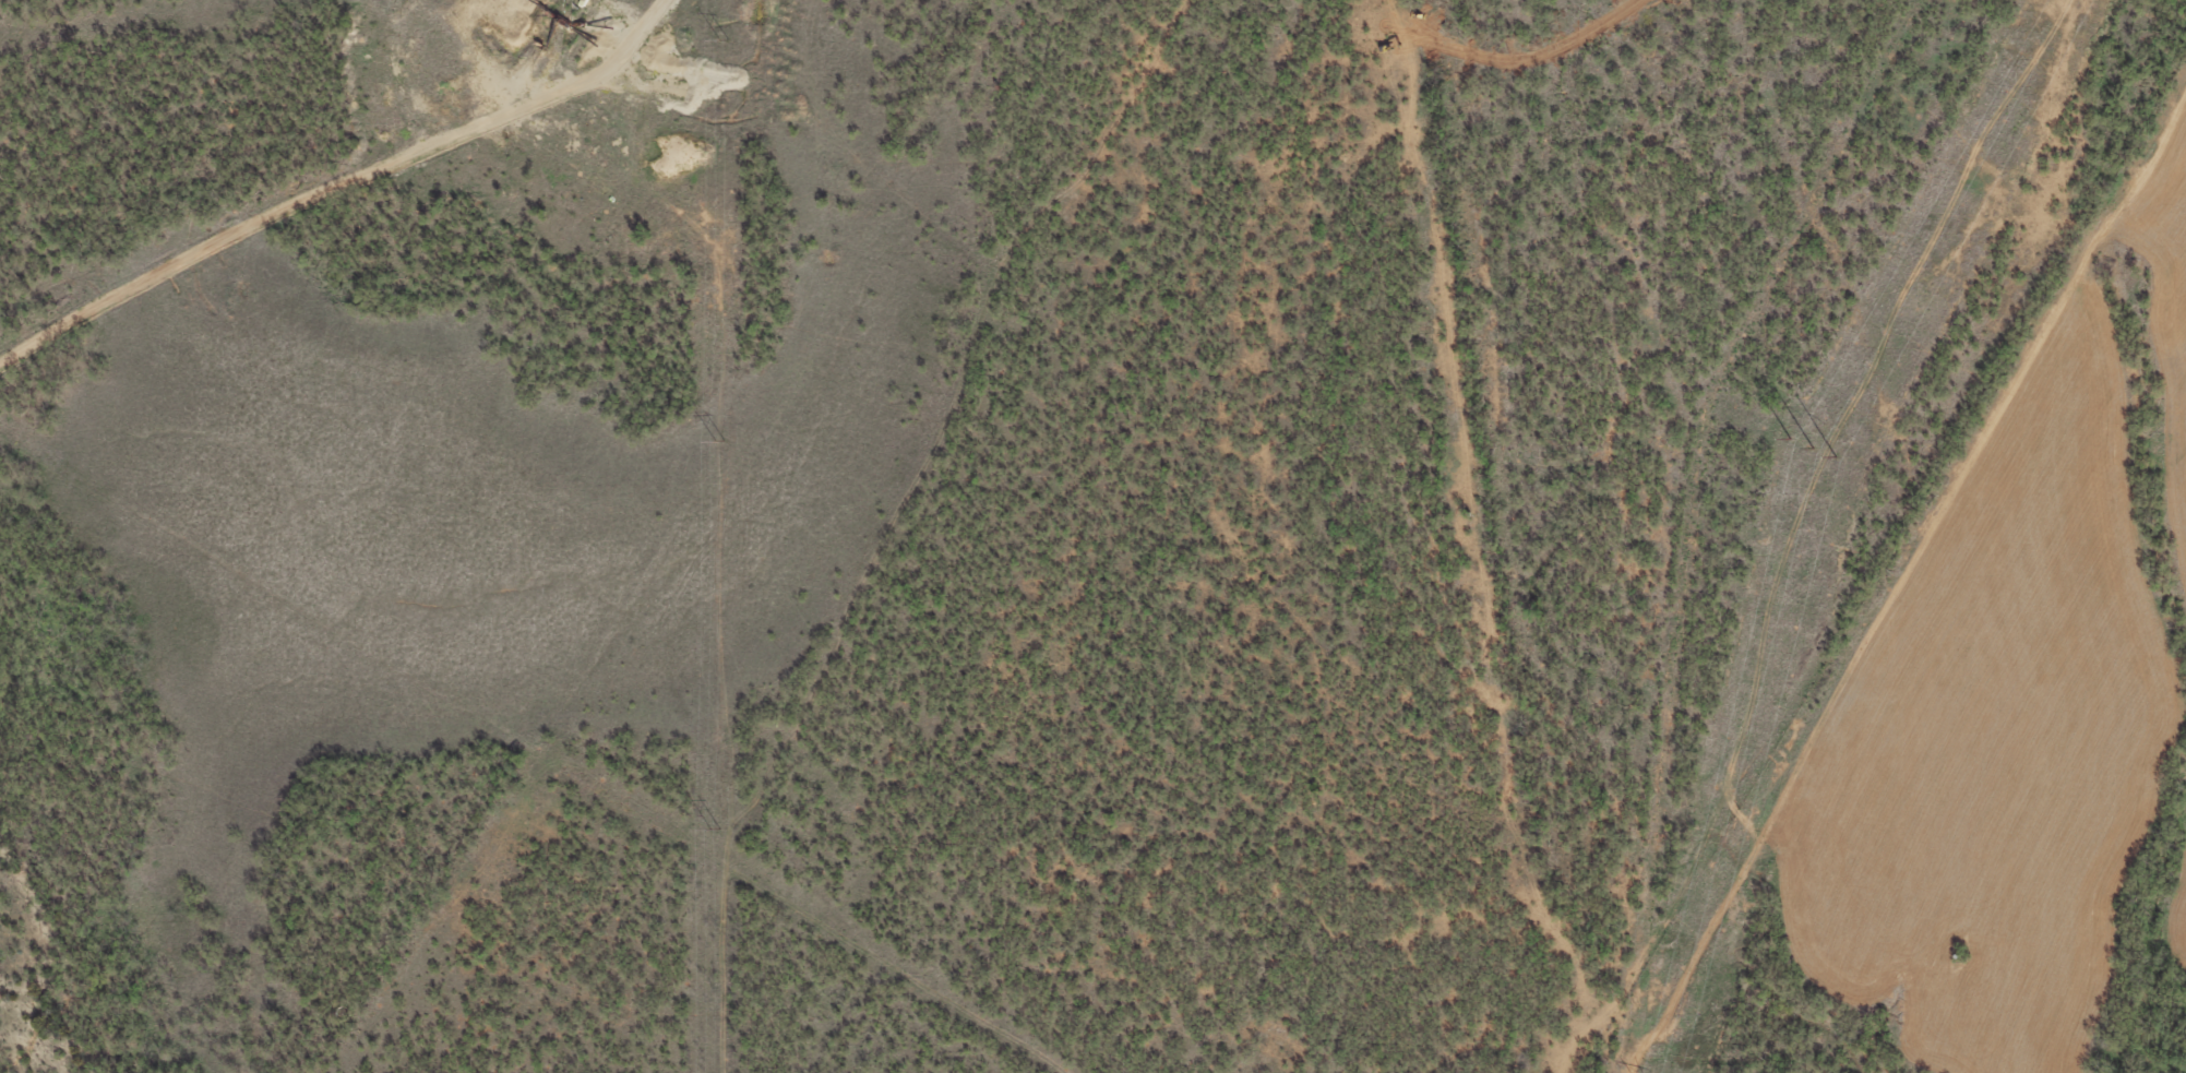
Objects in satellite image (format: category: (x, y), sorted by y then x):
power tower: (727, 39)
power tower: (720, 440)
power tower: (1817, 450)
road: (1915, 598)
power tower: (715, 828)

